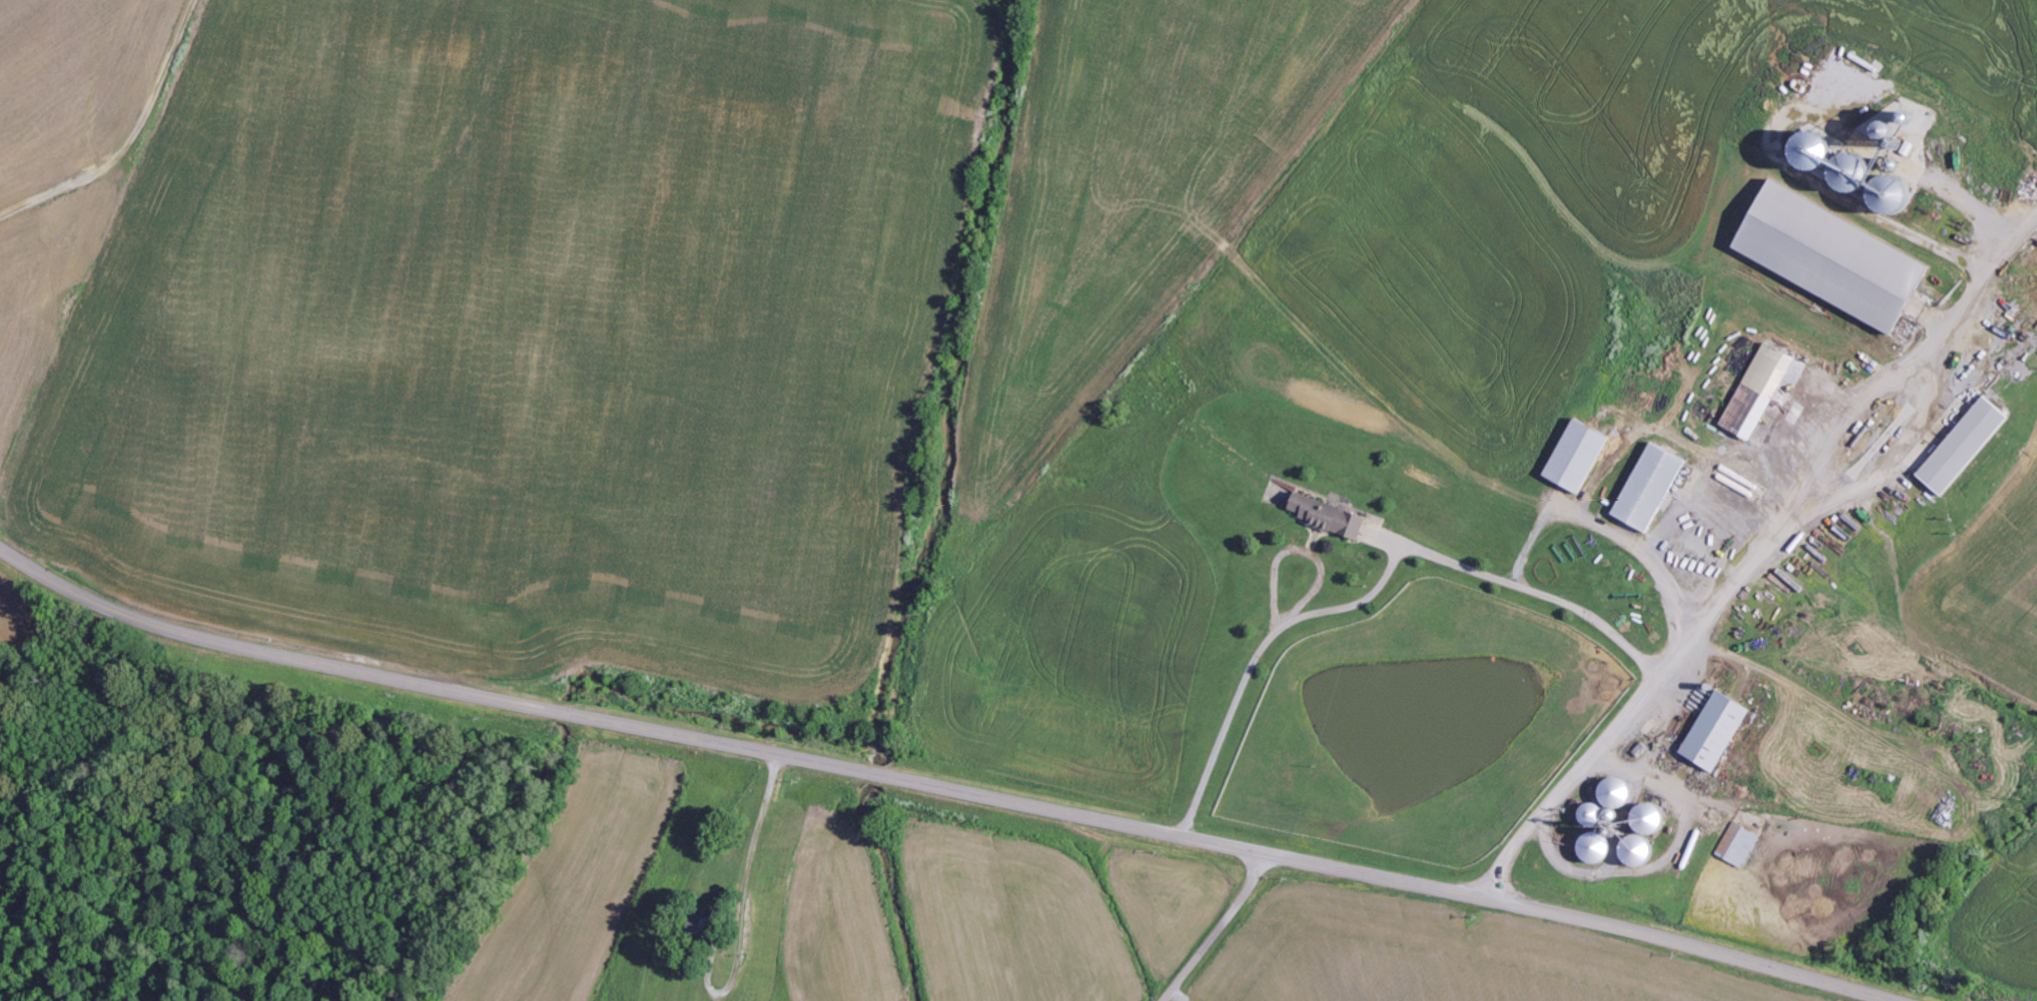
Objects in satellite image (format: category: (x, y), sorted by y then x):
building: (1840, 257)
building: (1763, 390)
building: (1969, 445)
building: (1581, 455)
building: (1654, 486)
building: (1333, 516)
road: (1746, 555)
building: (1721, 731)
road: (941, 788)
building: (1622, 793)
building: (1600, 815)
building: (1652, 835)
building: (1742, 844)
building: (1603, 848)
road: (1220, 929)

